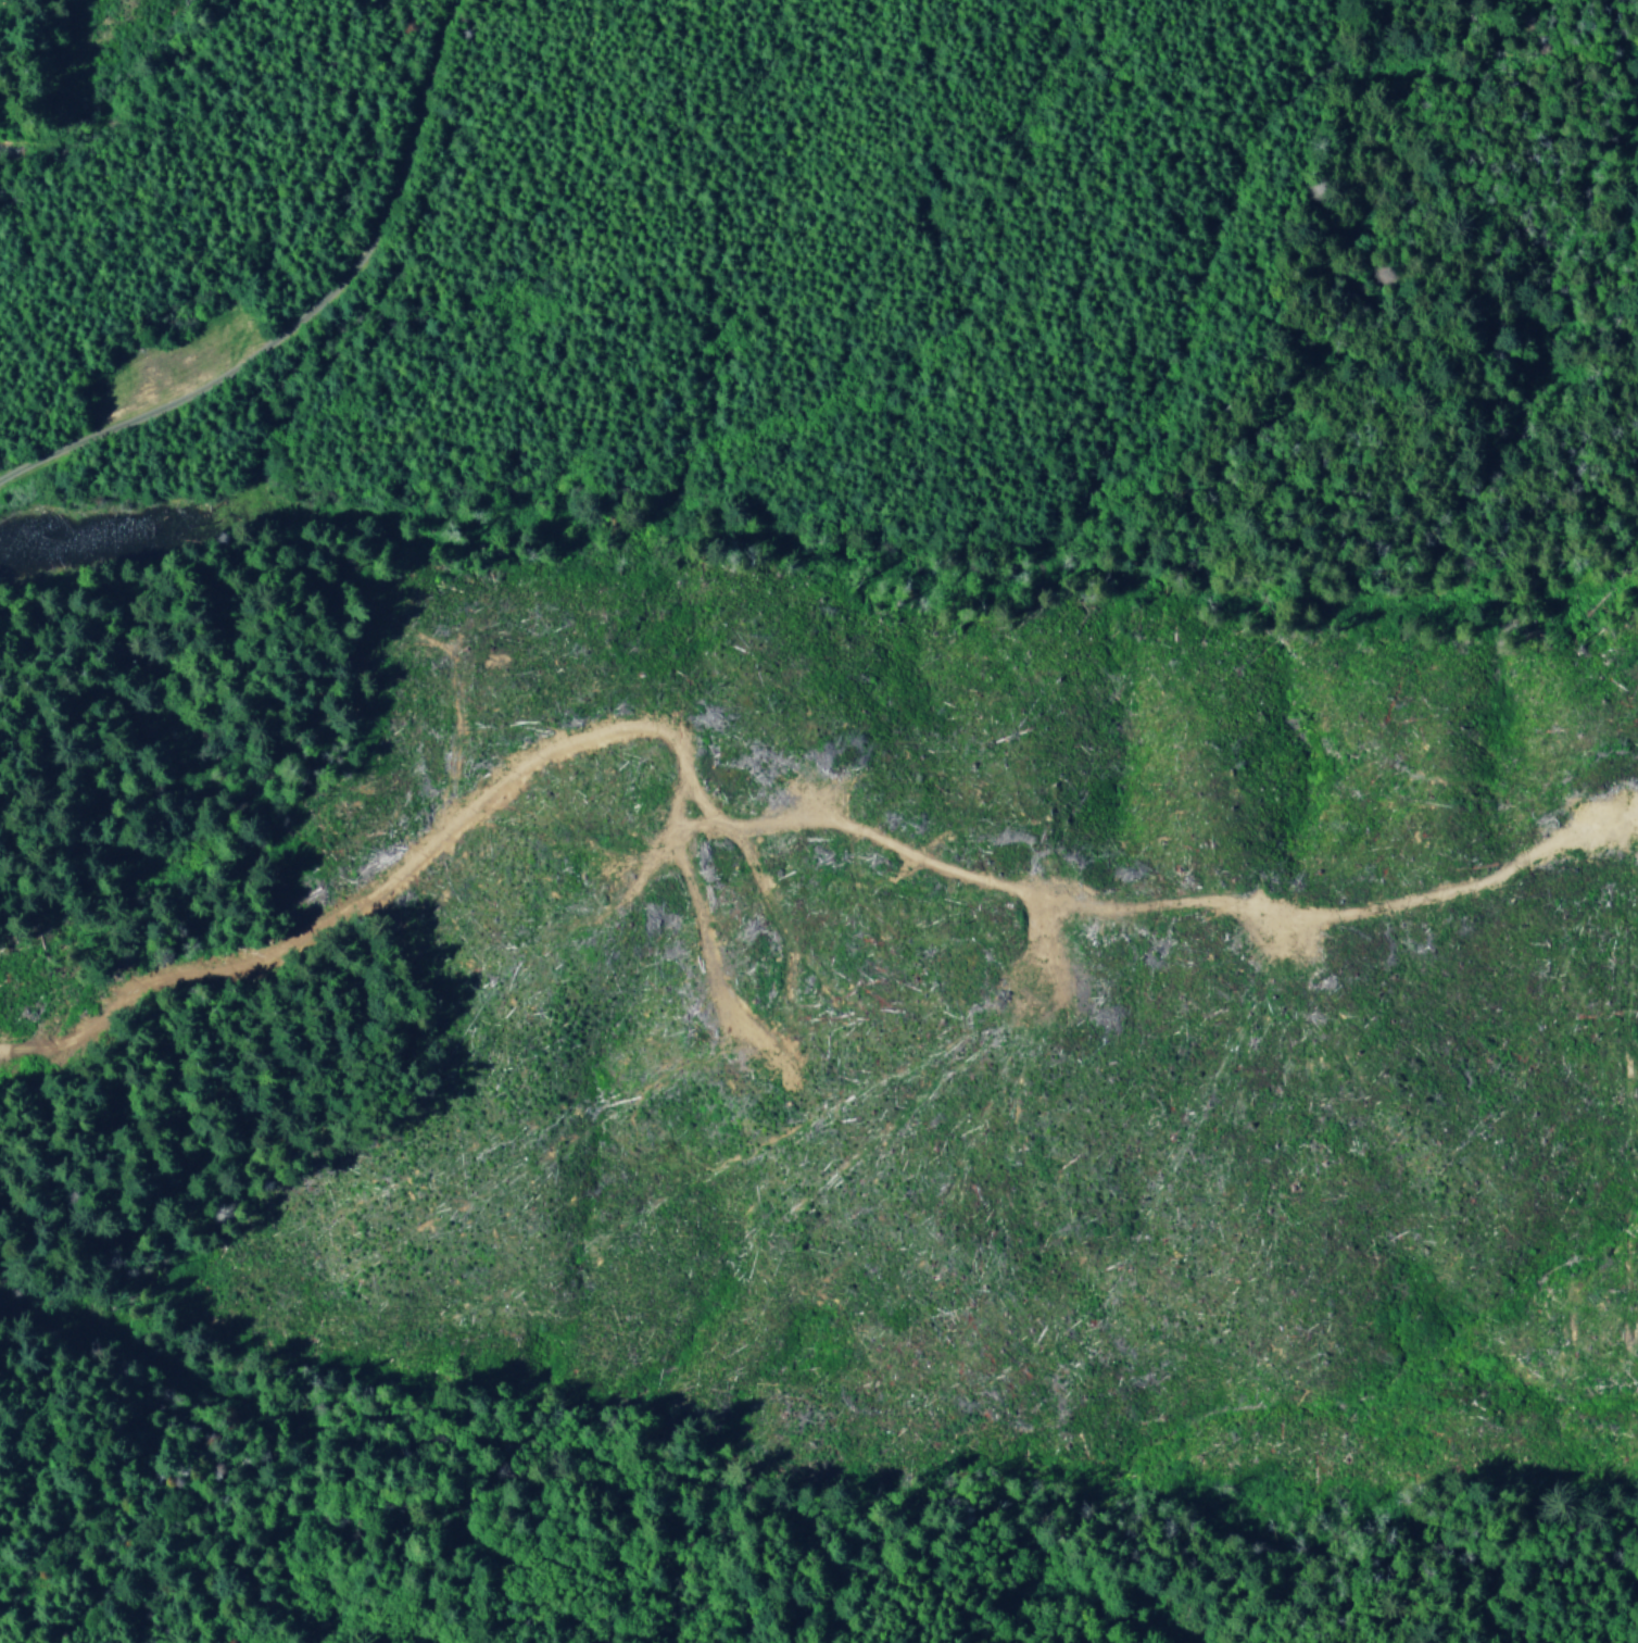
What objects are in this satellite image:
road: (310, 310)

